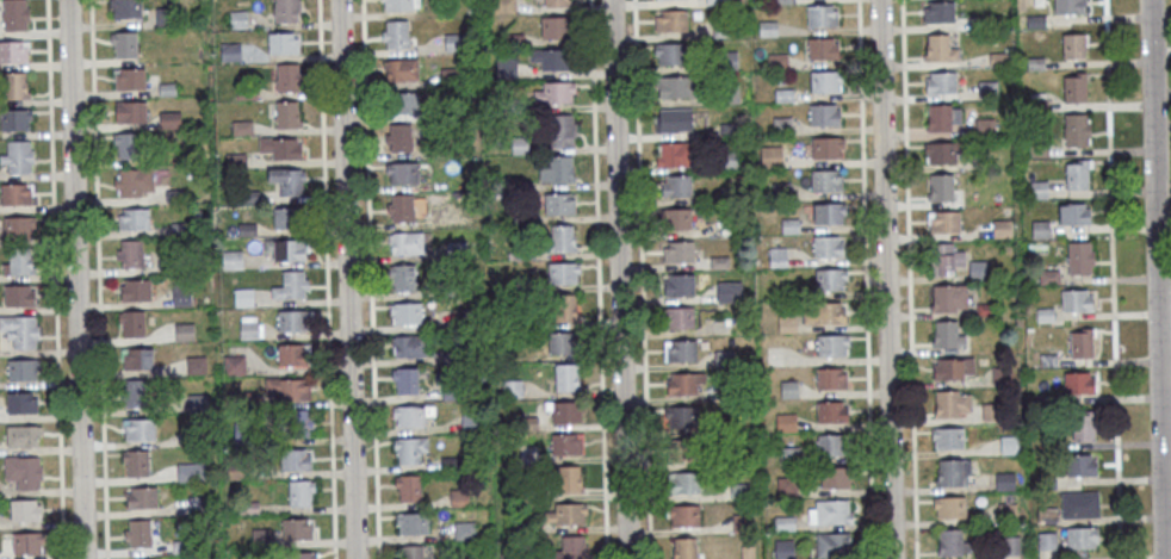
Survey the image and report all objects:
building: (670, 0)
building: (556, 2)
building: (718, 2)
building: (783, 2)
building: (398, 5)
building: (506, 6)
building: (124, 7)
building: (1068, 7)
building: (287, 10)
building: (938, 13)
building: (14, 14)
building: (165, 17)
building: (238, 18)
building: (822, 18)
building: (671, 23)
building: (989, 24)
building: (1035, 24)
building: (554, 27)
building: (721, 30)
building: (768, 30)
building: (397, 33)
building: (124, 43)
building: (283, 43)
building: (1073, 46)
building: (13, 50)
building: (822, 50)
building: (940, 50)
building: (231, 51)
building: (670, 55)
building: (551, 58)
building: (998, 60)
building: (726, 62)
building: (777, 63)
building: (1035, 64)
building: (506, 68)
building: (402, 69)
building: (287, 76)
building: (129, 79)
building: (825, 82)
building: (941, 83)
building: (16, 85)
building: (679, 87)
building: (167, 88)
building: (1074, 91)
building: (554, 92)
building: (987, 92)
building: (730, 95)
building: (783, 97)
building: (1036, 97)
building: (404, 103)
building: (1039, 107)
building: (131, 112)
building: (287, 114)
building: (824, 117)
building: (169, 119)
building: (942, 119)
building: (16, 120)
building: (675, 122)
building: (242, 126)
building: (782, 128)
building: (985, 128)
building: (562, 131)
building: (729, 131)
building: (1077, 131)
building: (401, 137)
street lamp: (902, 144)
building: (128, 145)
building: (281, 148)
building: (828, 149)
building: (944, 153)
building: (18, 156)
building: (675, 156)
building: (770, 157)
building: (731, 162)
building: (557, 169)
building: (403, 172)
building: (1077, 176)
building: (289, 180)
building: (825, 182)
building: (128, 184)
building: (676, 187)
building: (941, 190)
building: (1039, 191)
building: (782, 192)
building: (16, 194)
building: (729, 197)
building: (558, 204)
building: (402, 207)
building: (829, 215)
building: (1073, 216)
building: (289, 217)
building: (132, 218)
building: (676, 221)
building: (944, 223)
building: (19, 226)
building: (789, 228)
building: (1002, 230)
building: (1040, 230)
building: (560, 240)
building: (405, 242)
building: (289, 249)
building: (828, 249)
building: (131, 253)
building: (679, 254)
building: (777, 259)
building: (944, 260)
building: (1080, 260)
building: (18, 261)
building: (719, 265)
building: (563, 272)
building: (978, 272)
building: (402, 277)
road: (55, 279)
road: (74, 279)
road: (98, 279)
road: (327, 279)
road: (346, 279)
road: (370, 279)
road: (599, 279)
road: (618, 279)
road: (642, 279)
road: (866, 279)
road: (885, 279)
road: (909, 279)
building: (1048, 279)
road: (1113, 279)
road: (1155, 279)
building: (830, 280)
building: (290, 285)
building: (680, 286)
building: (135, 290)
building: (729, 293)
building: (18, 294)
building: (792, 294)
building: (181, 296)
building: (949, 299)
building: (1076, 302)
building: (564, 308)
building: (986, 311)
building: (407, 312)
building: (824, 313)
building: (1046, 317)
building: (680, 319)
building: (292, 321)
building: (131, 324)
building: (787, 325)
building: (20, 331)
building: (184, 331)
building: (947, 337)
building: (560, 343)
building: (410, 346)
building: (832, 347)
building: (1082, 347)
building: (682, 353)
building: (292, 354)
building: (137, 358)
building: (724, 360)
building: (1047, 362)
building: (196, 364)
building: (234, 365)
building: (23, 369)
building: (953, 369)
building: (1002, 377)
building: (566, 378)
building: (407, 380)
building: (830, 380)
building: (684, 385)
building: (1078, 385)
building: (287, 389)
building: (512, 389)
building: (788, 391)
building: (727, 392)
building: (136, 393)
building: (21, 403)
building: (1046, 403)
building: (952, 405)
building: (566, 412)
building: (831, 414)
building: (992, 414)
building: (409, 415)
building: (682, 418)
building: (297, 423)
building: (786, 424)
building: (140, 429)
building: (1084, 429)
building: (21, 436)
building: (948, 440)
building: (566, 443)
building: (832, 447)
building: (1009, 447)
building: (408, 451)
building: (683, 452)
building: (789, 456)
building: (295, 459)
building: (739, 460)
building: (135, 462)
building: (1082, 467)
building: (24, 471)
building: (949, 476)
building: (570, 479)
building: (835, 479)
building: (1005, 483)
building: (684, 485)
building: (1047, 485)
building: (408, 487)
building: (787, 489)
building: (301, 492)
building: (741, 493)
building: (142, 497)
building: (1080, 507)
building: (24, 509)
building: (950, 509)
building: (568, 514)
building: (832, 514)
building: (1008, 515)
building: (684, 517)
building: (1047, 517)
building: (413, 522)
building: (743, 526)
building: (785, 526)
building: (296, 528)
building: (467, 529)
building: (138, 533)
building: (1082, 540)
building: (27, 542)
building: (1047, 542)
building: (952, 545)
building: (571, 547)
building: (832, 547)
building: (1010, 547)
building: (686, 549)
building: (785, 551)
building: (411, 552)
building: (748, 553)
building: (304, 555)
road: (1160, 557)
road: (1135, 558)

